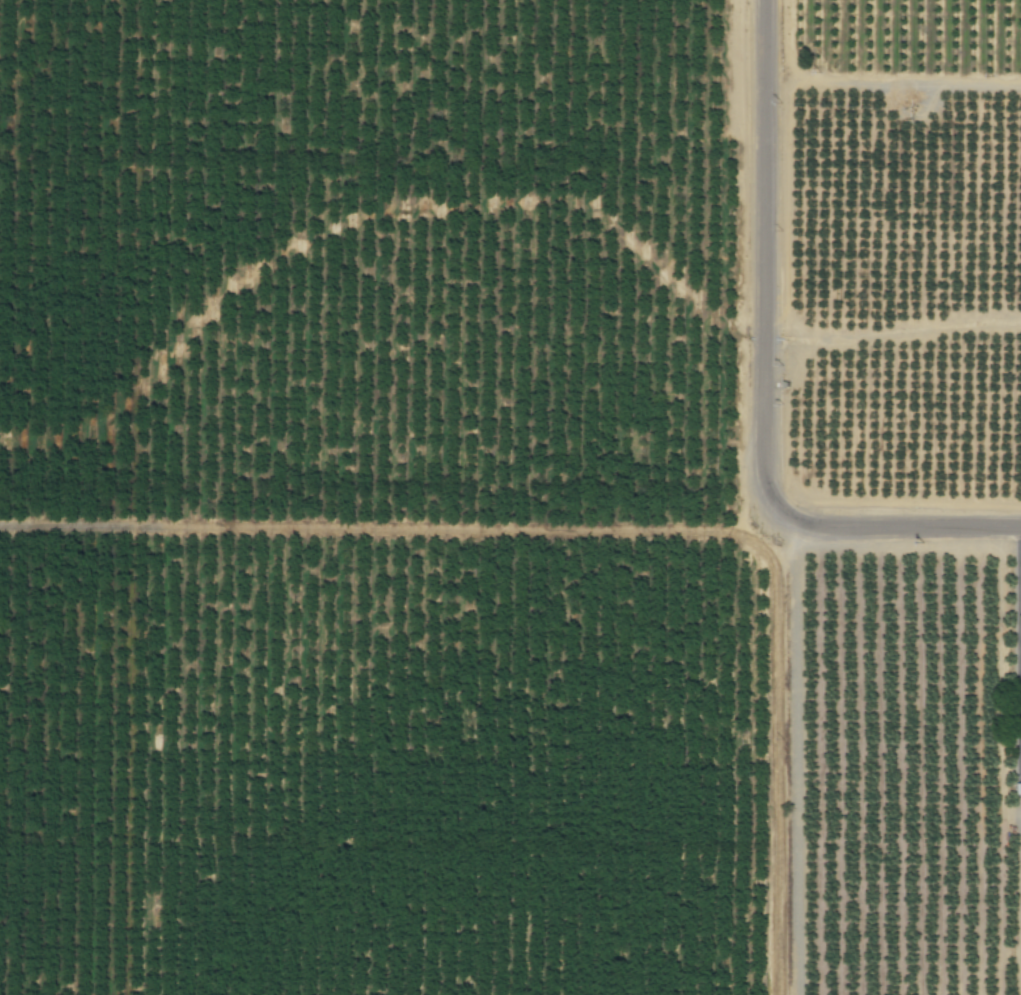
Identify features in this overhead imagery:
road: (762, 380)
road: (391, 528)
road: (774, 757)

